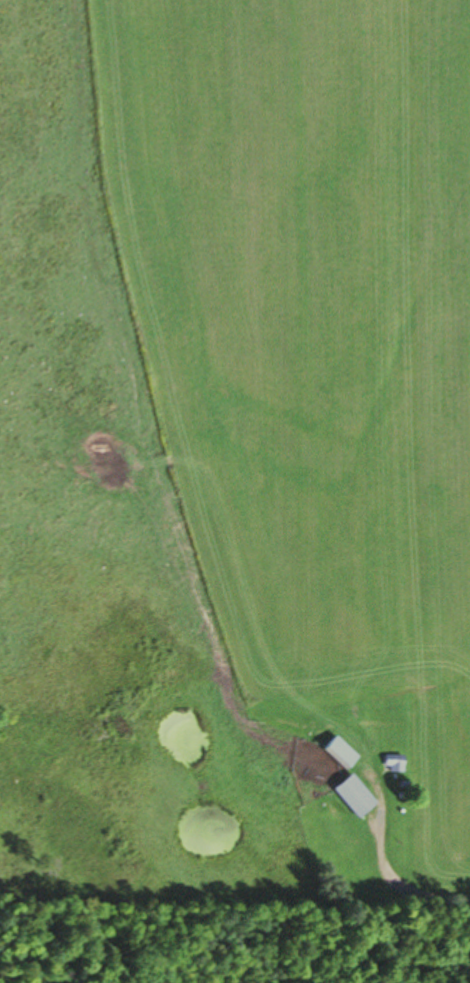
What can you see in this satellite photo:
building: (338, 753)
building: (392, 764)
building: (352, 796)
road: (397, 850)

